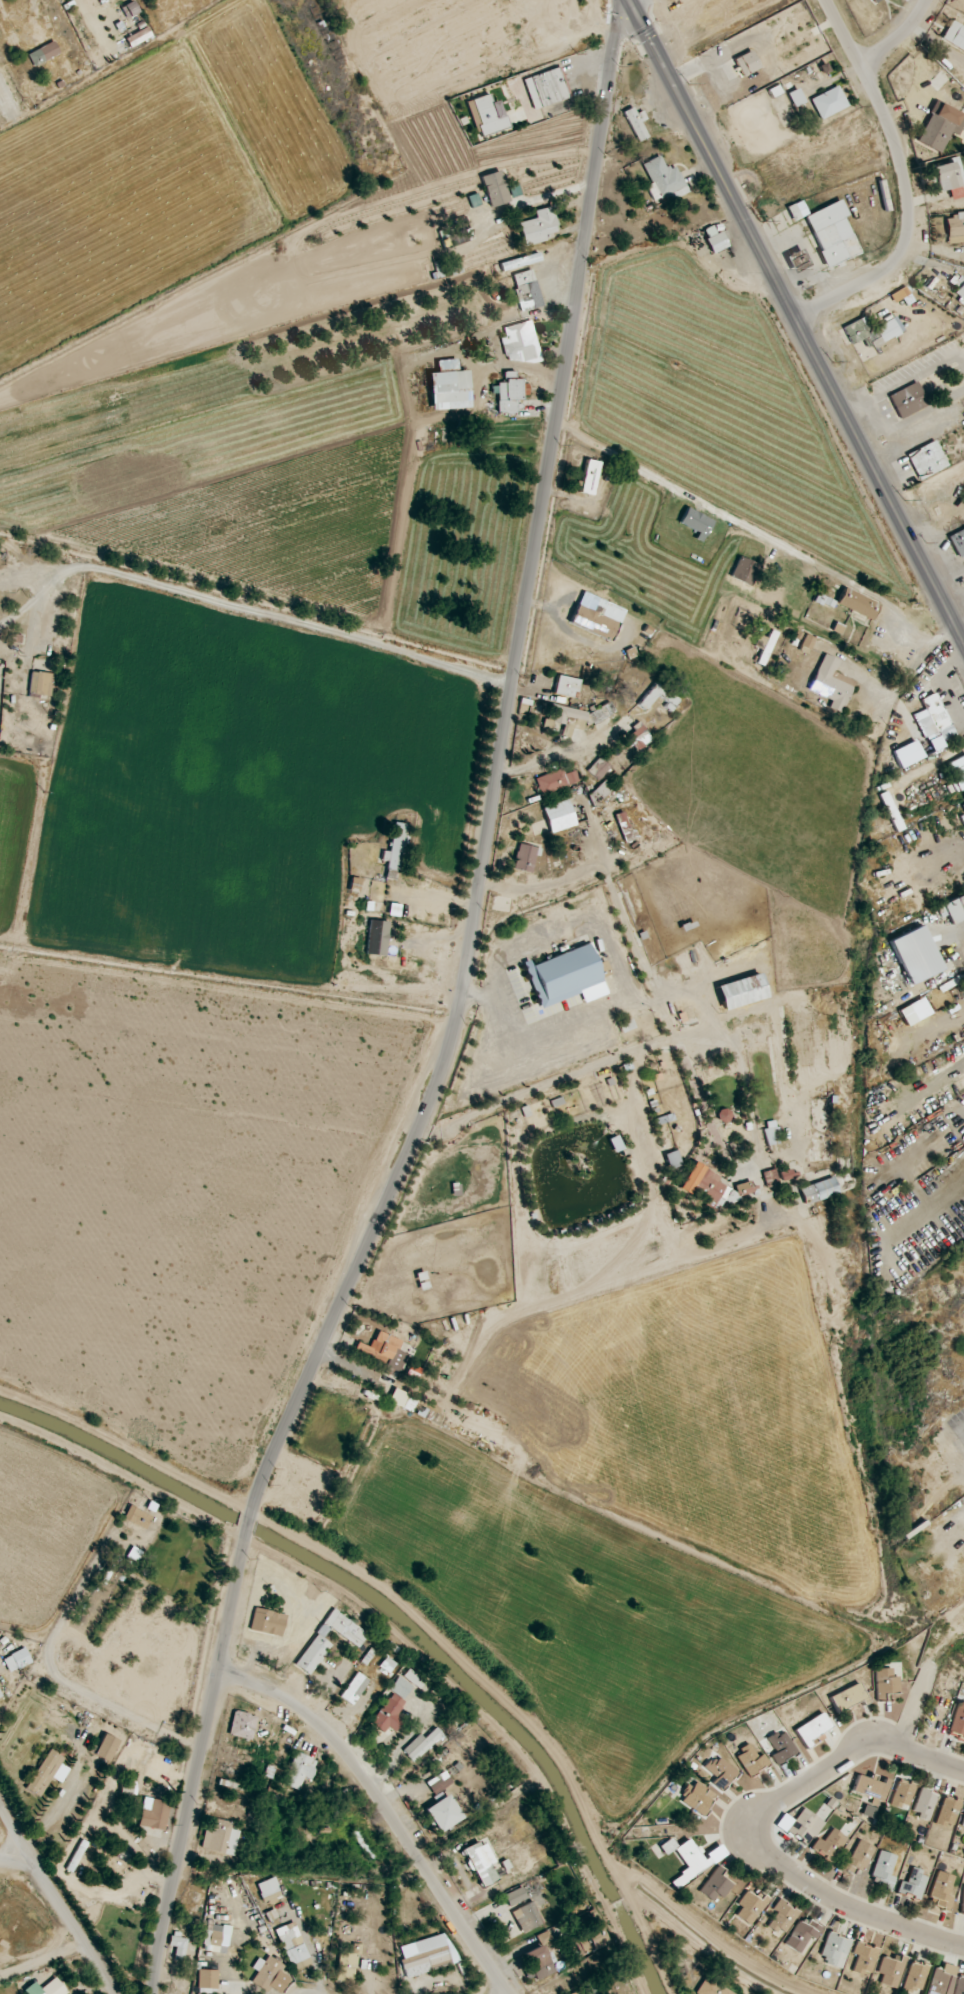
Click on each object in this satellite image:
road: (629, 1)
building: (875, 1)
traffic signals: (630, 2)
road: (898, 36)
building: (954, 36)
building: (139, 37)
building: (43, 53)
building: (746, 63)
road: (579, 64)
building: (547, 88)
building: (795, 97)
building: (828, 102)
road: (8, 103)
building: (487, 115)
building: (637, 122)
building: (938, 127)
building: (949, 177)
building: (663, 180)
road: (905, 181)
building: (495, 188)
road: (558, 213)
building: (539, 226)
building: (955, 227)
building: (832, 233)
building: (715, 239)
building: (797, 260)
building: (520, 262)
building: (959, 288)
building: (527, 290)
building: (899, 295)
road: (798, 322)
building: (857, 330)
building: (887, 330)
building: (520, 343)
building: (449, 386)
building: (509, 393)
building: (908, 400)
building: (927, 460)
building: (589, 477)
road: (543, 496)
building: (696, 523)
road: (758, 532)
building: (957, 542)
building: (744, 571)
road: (443, 580)
building: (857, 604)
road: (247, 610)
building: (597, 619)
building: (806, 643)
road: (942, 679)
building: (830, 683)
building: (40, 684)
building: (566, 686)
building: (668, 697)
building: (601, 713)
building: (568, 718)
building: (934, 724)
building: (639, 738)
road: (956, 753)
building: (599, 768)
building: (958, 772)
building: (556, 781)
building: (963, 806)
building: (559, 816)
building: (624, 826)
building: (394, 849)
road: (943, 864)
building: (952, 907)
building: (377, 938)
building: (915, 955)
building: (603, 969)
building: (565, 975)
building: (741, 991)
building: (914, 1011)
road: (521, 1054)
building: (771, 1133)
building: (673, 1159)
building: (772, 1177)
building: (709, 1185)
building: (744, 1189)
building: (819, 1190)
road: (359, 1261)
building: (402, 1400)
building: (137, 1517)
road: (248, 1530)
building: (268, 1622)
building: (318, 1641)
building: (16, 1660)
building: (387, 1664)
building: (414, 1679)
building: (886, 1683)
building: (354, 1687)
building: (400, 1687)
building: (0, 1696)
building: (848, 1697)
building: (389, 1714)
building: (958, 1722)
building: (242, 1725)
building: (812, 1728)
building: (421, 1744)
building: (781, 1746)
building: (106, 1747)
building: (751, 1760)
road: (198, 1763)
building: (299, 1770)
building: (720, 1770)
building: (47, 1773)
building: (871, 1787)
building: (128, 1788)
building: (903, 1794)
building: (698, 1797)
building: (924, 1804)
road: (385, 1808)
building: (948, 1811)
building: (443, 1813)
building: (154, 1814)
building: (962, 1824)
road: (746, 1826)
building: (805, 1826)
building: (220, 1836)
building: (362, 1844)
building: (829, 1845)
building: (716, 1853)
road: (13, 1856)
building: (857, 1857)
building: (481, 1863)
building: (884, 1870)
building: (913, 1884)
building: (716, 1885)
building: (942, 1890)
building: (269, 1891)
building: (515, 1896)
road: (56, 1899)
building: (962, 1901)
building: (751, 1906)
building: (527, 1917)
building: (782, 1917)
building: (215, 1938)
building: (588, 1940)
building: (292, 1943)
building: (178, 1946)
building: (835, 1949)
building: (427, 1955)
building: (864, 1958)
building: (539, 1962)
building: (346, 1967)
building: (891, 1970)
building: (269, 1974)
building: (915, 1976)
building: (942, 1980)
building: (207, 1981)
road: (90, 1983)
building: (959, 1985)
building: (592, 1987)
building: (46, 1988)
building: (713, 1988)

